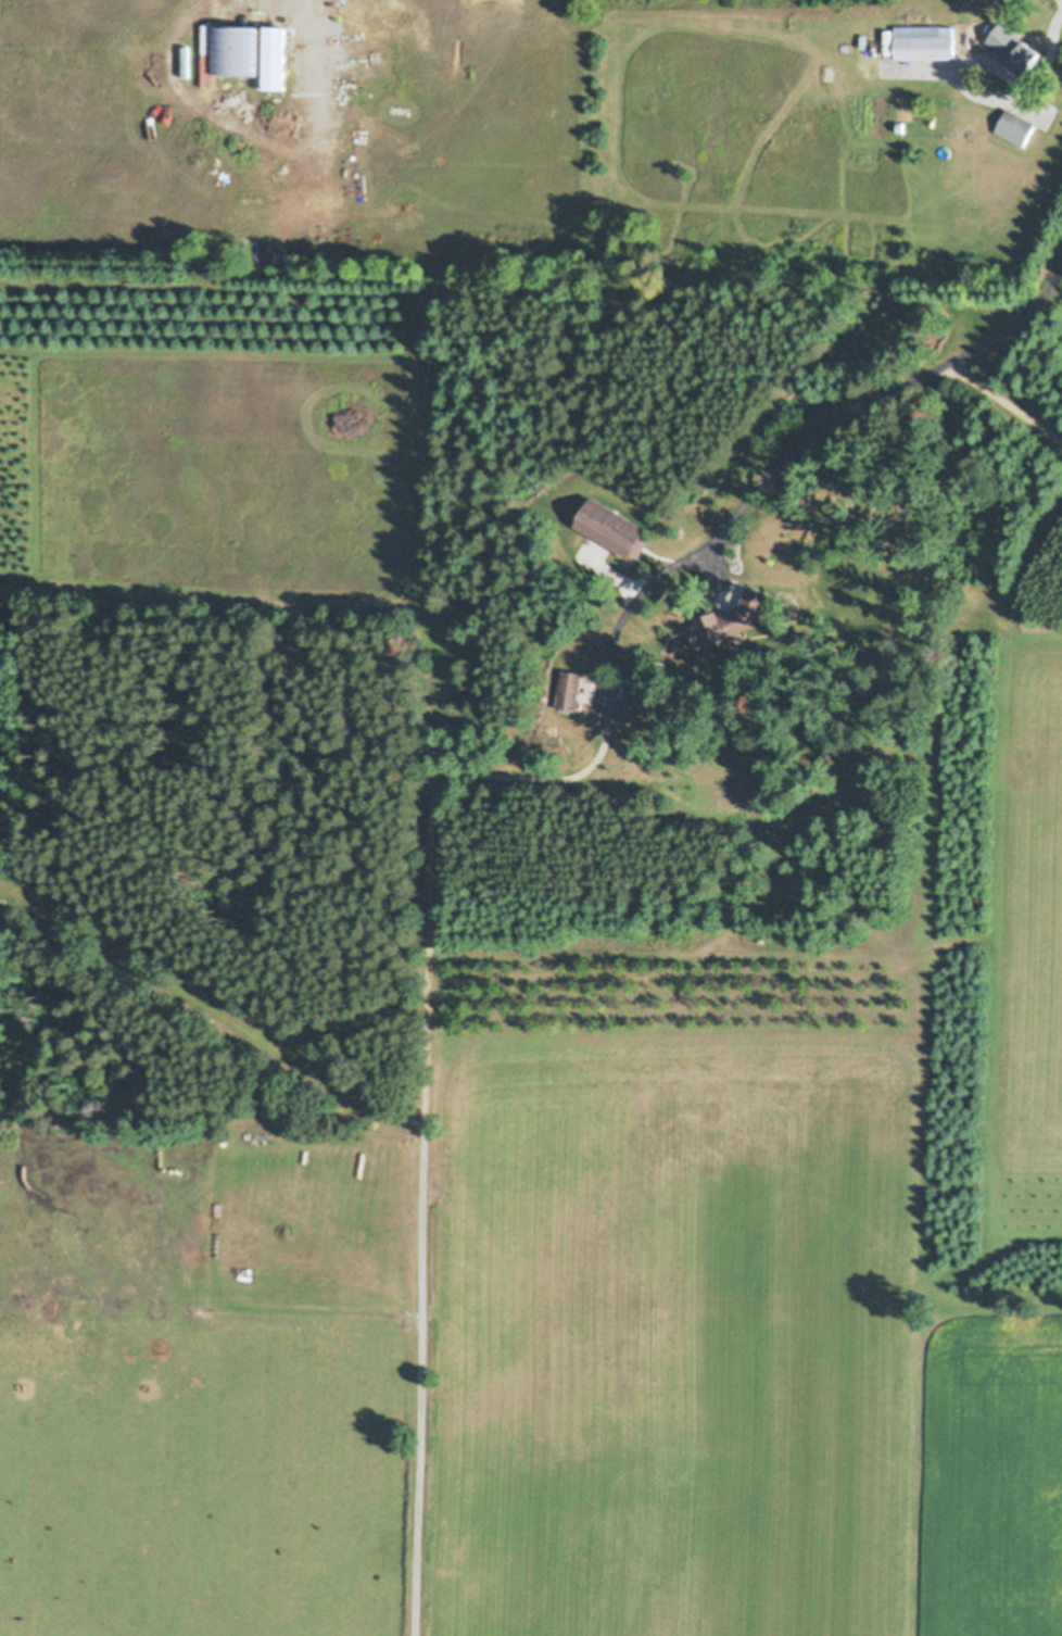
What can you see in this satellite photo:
road: (280, 9)
building: (924, 43)
building: (889, 48)
building: (1014, 50)
building: (276, 62)
road: (1027, 80)
building: (899, 127)
building: (1015, 129)
road: (877, 397)
building: (612, 521)
building: (728, 616)
building: (568, 684)
building: (301, 1045)

